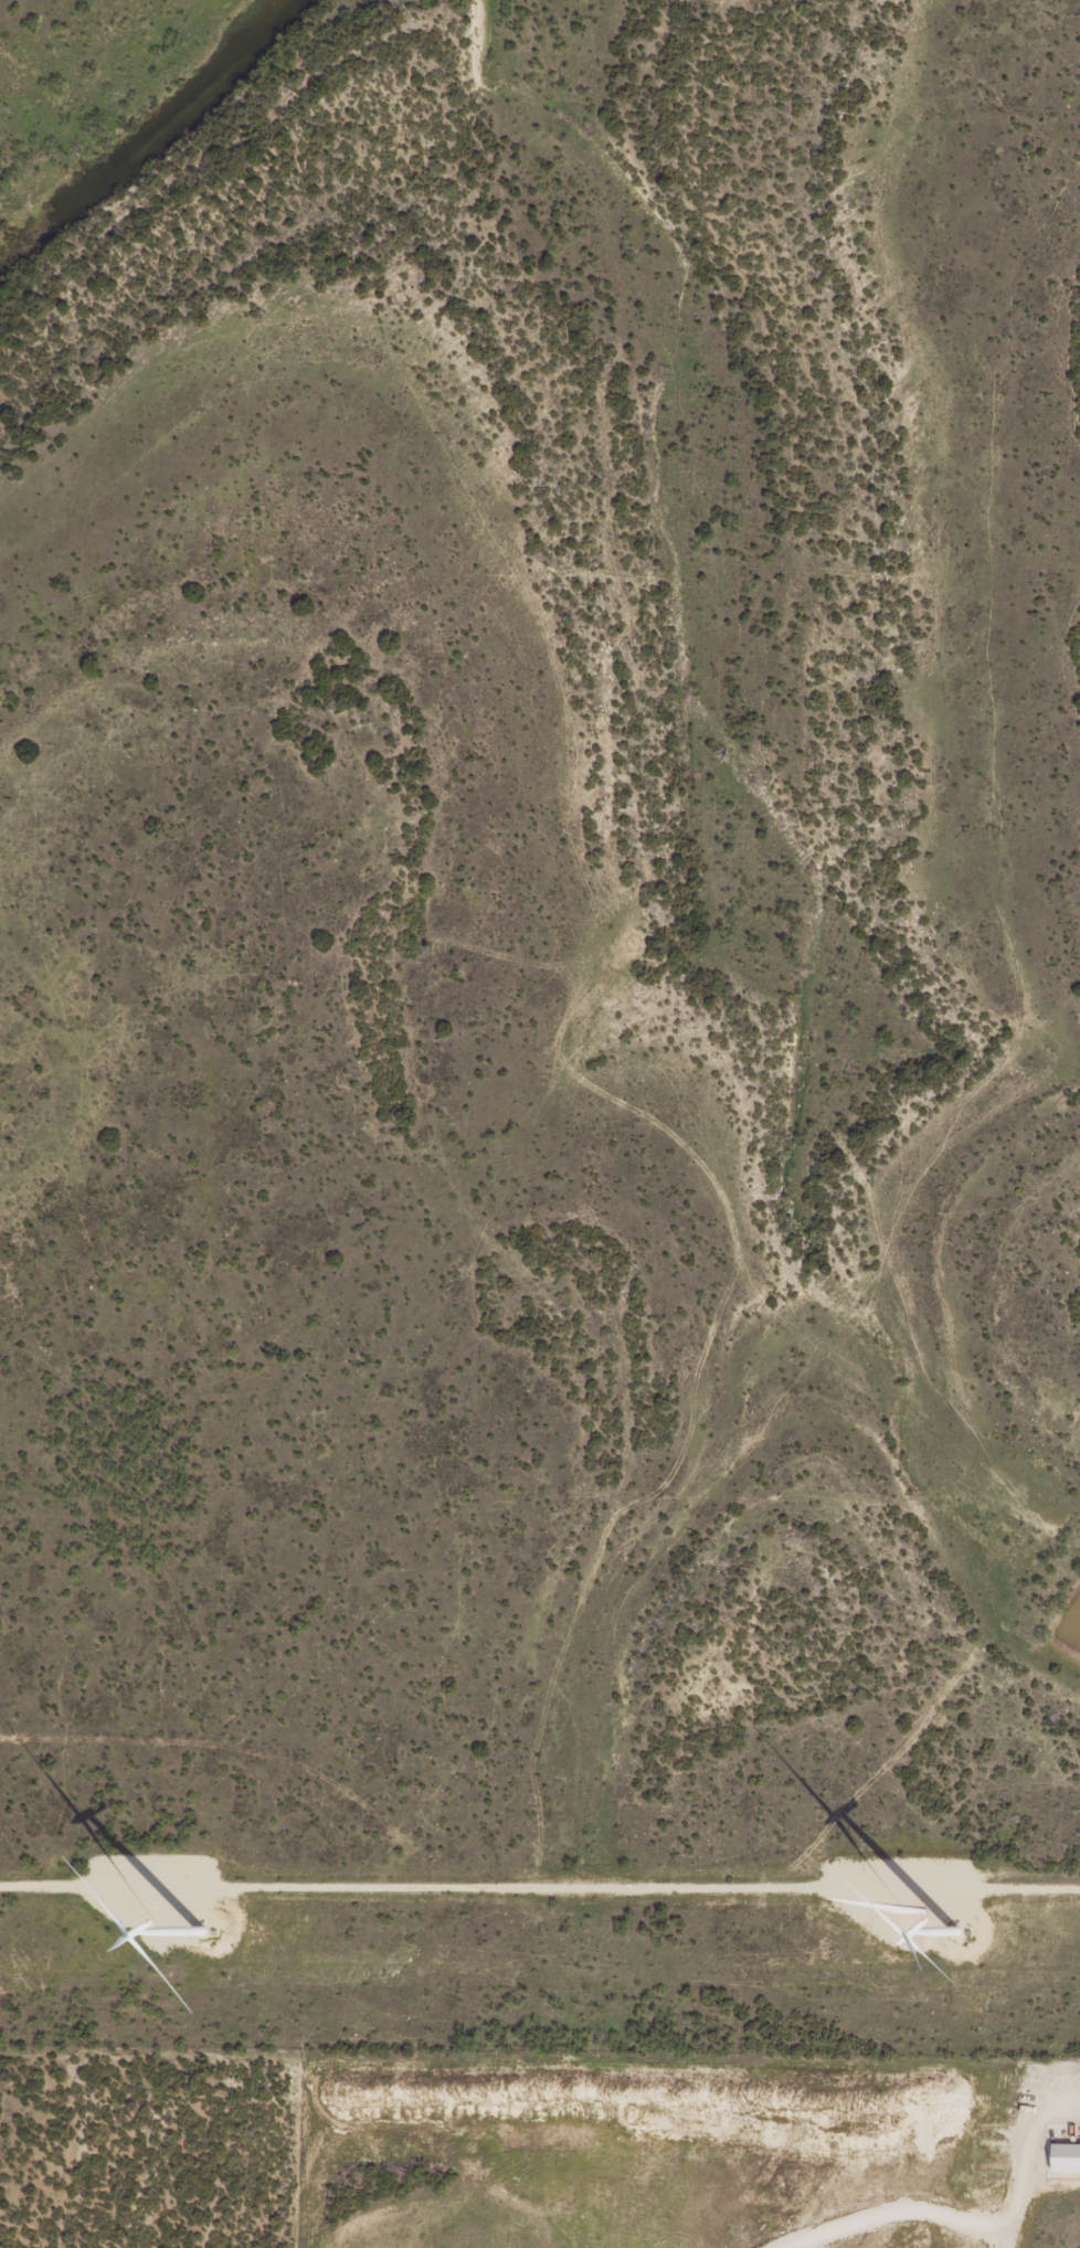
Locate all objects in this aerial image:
wind turbine: (246, 1908)
wind turbine: (964, 1916)
building: (1063, 2157)

